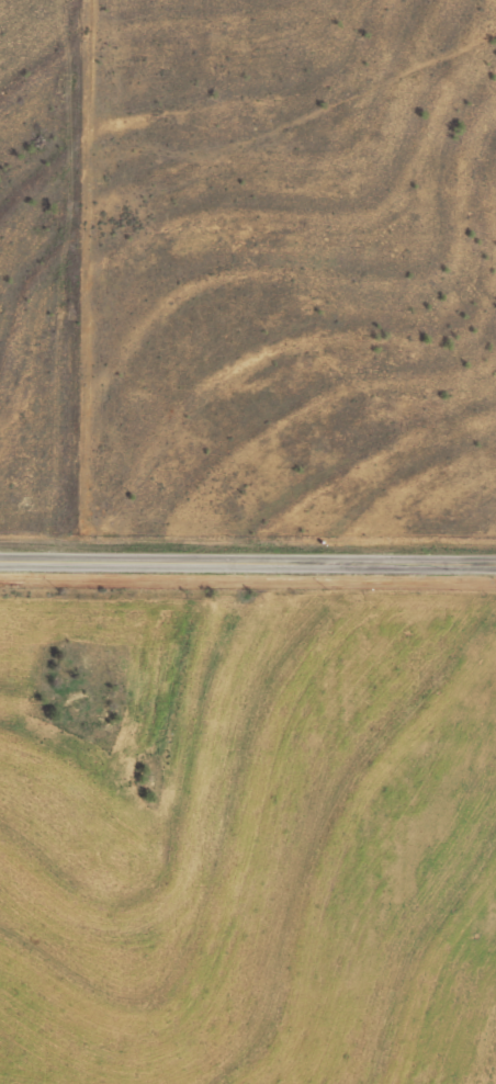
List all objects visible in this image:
road: (248, 564)

